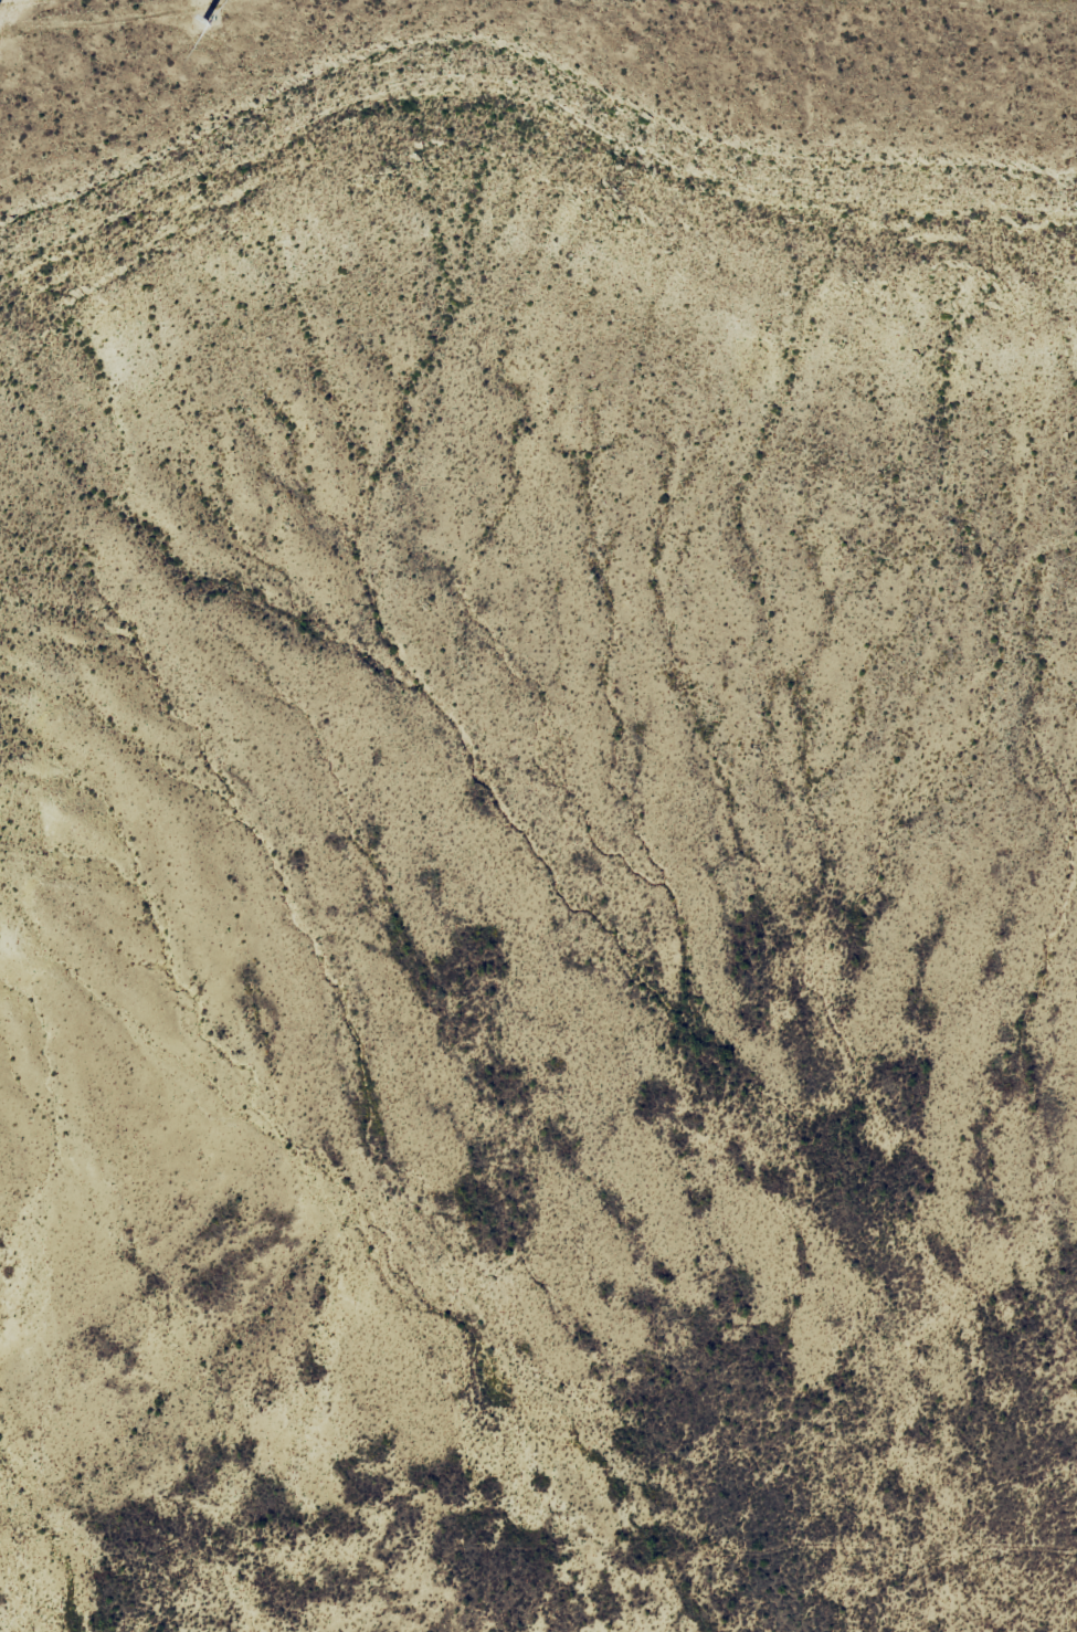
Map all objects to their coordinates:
wind turbine: (202, 21)

